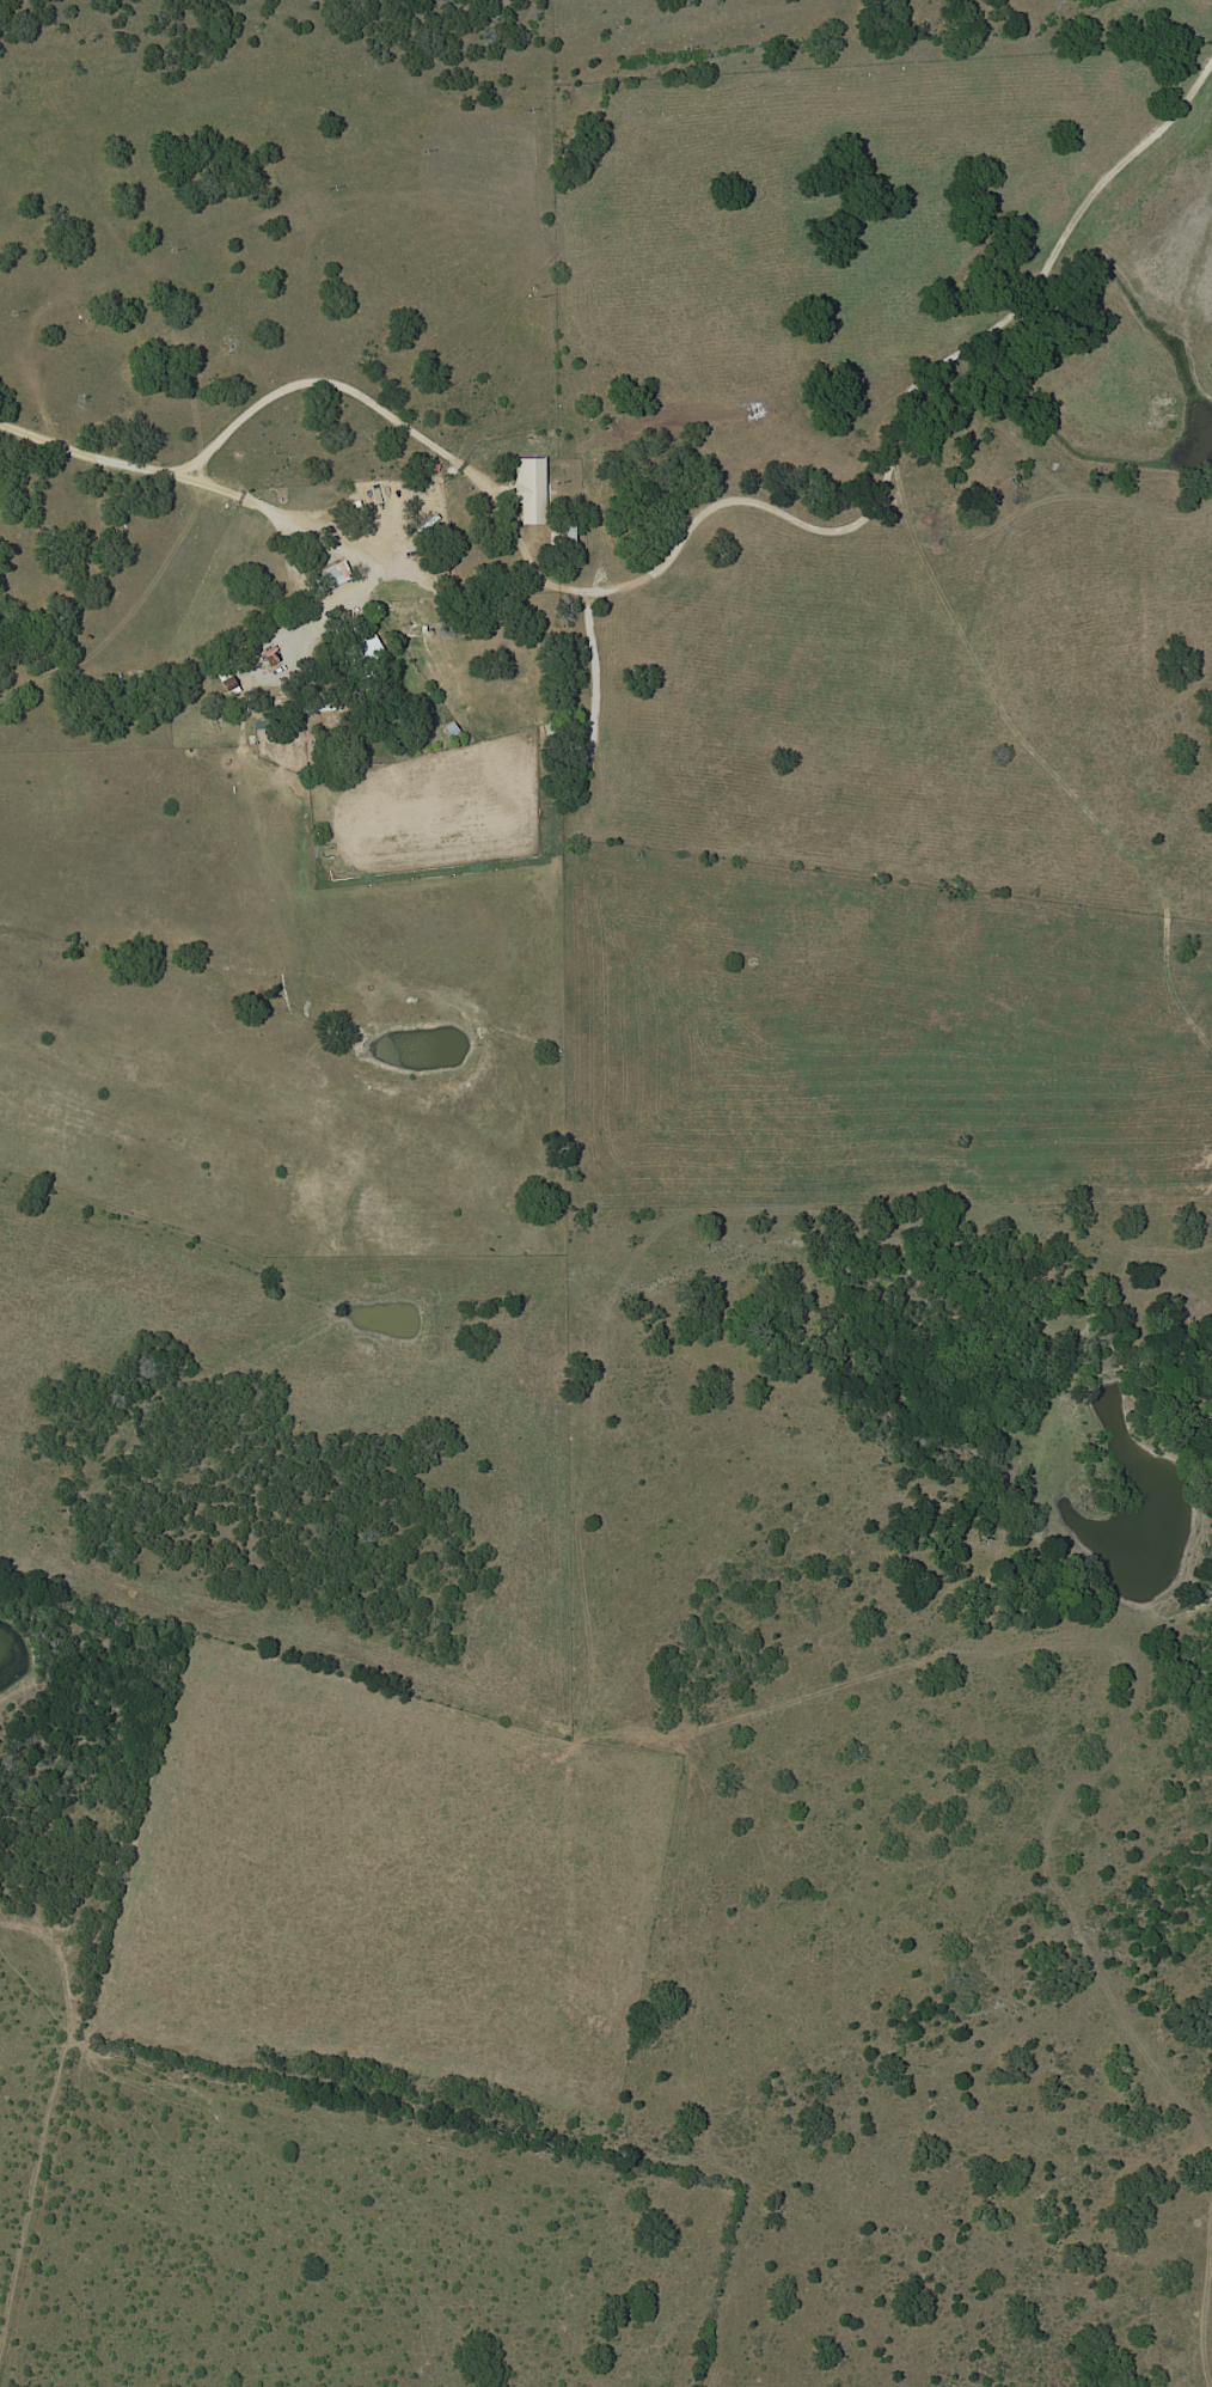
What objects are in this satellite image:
road: (112, 463)
building: (530, 492)
building: (561, 533)
building: (333, 576)
building: (363, 653)
building: (276, 661)
building: (226, 682)
building: (318, 702)
building: (552, 729)
building: (576, 753)

